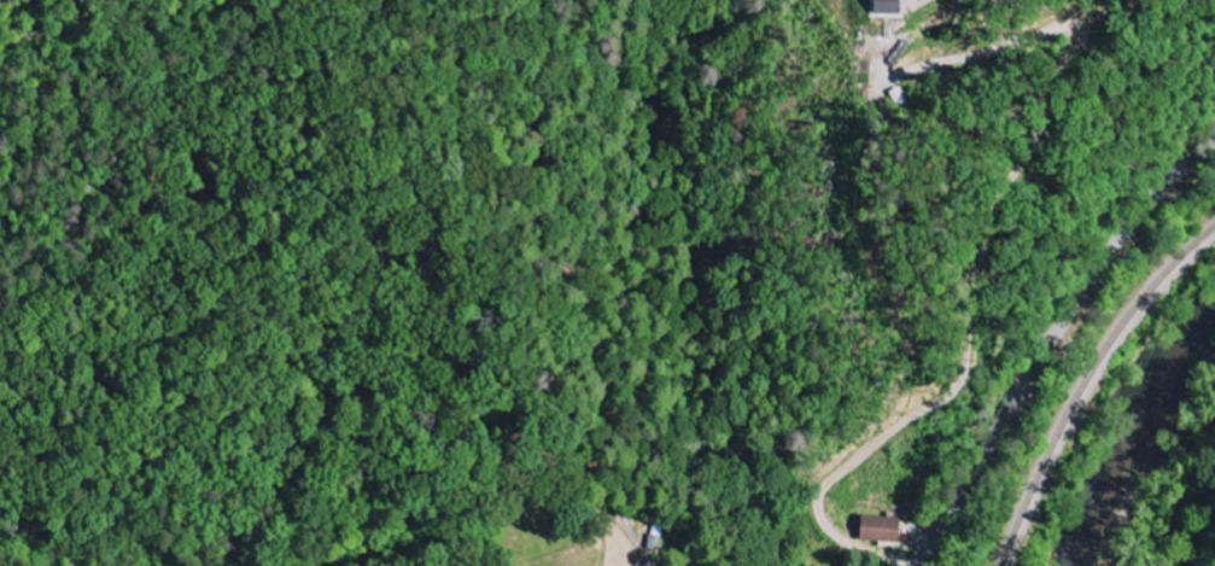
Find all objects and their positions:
building: (890, 6)
road: (1048, 343)
railway: (1090, 386)
river: (1129, 432)
building: (883, 527)

